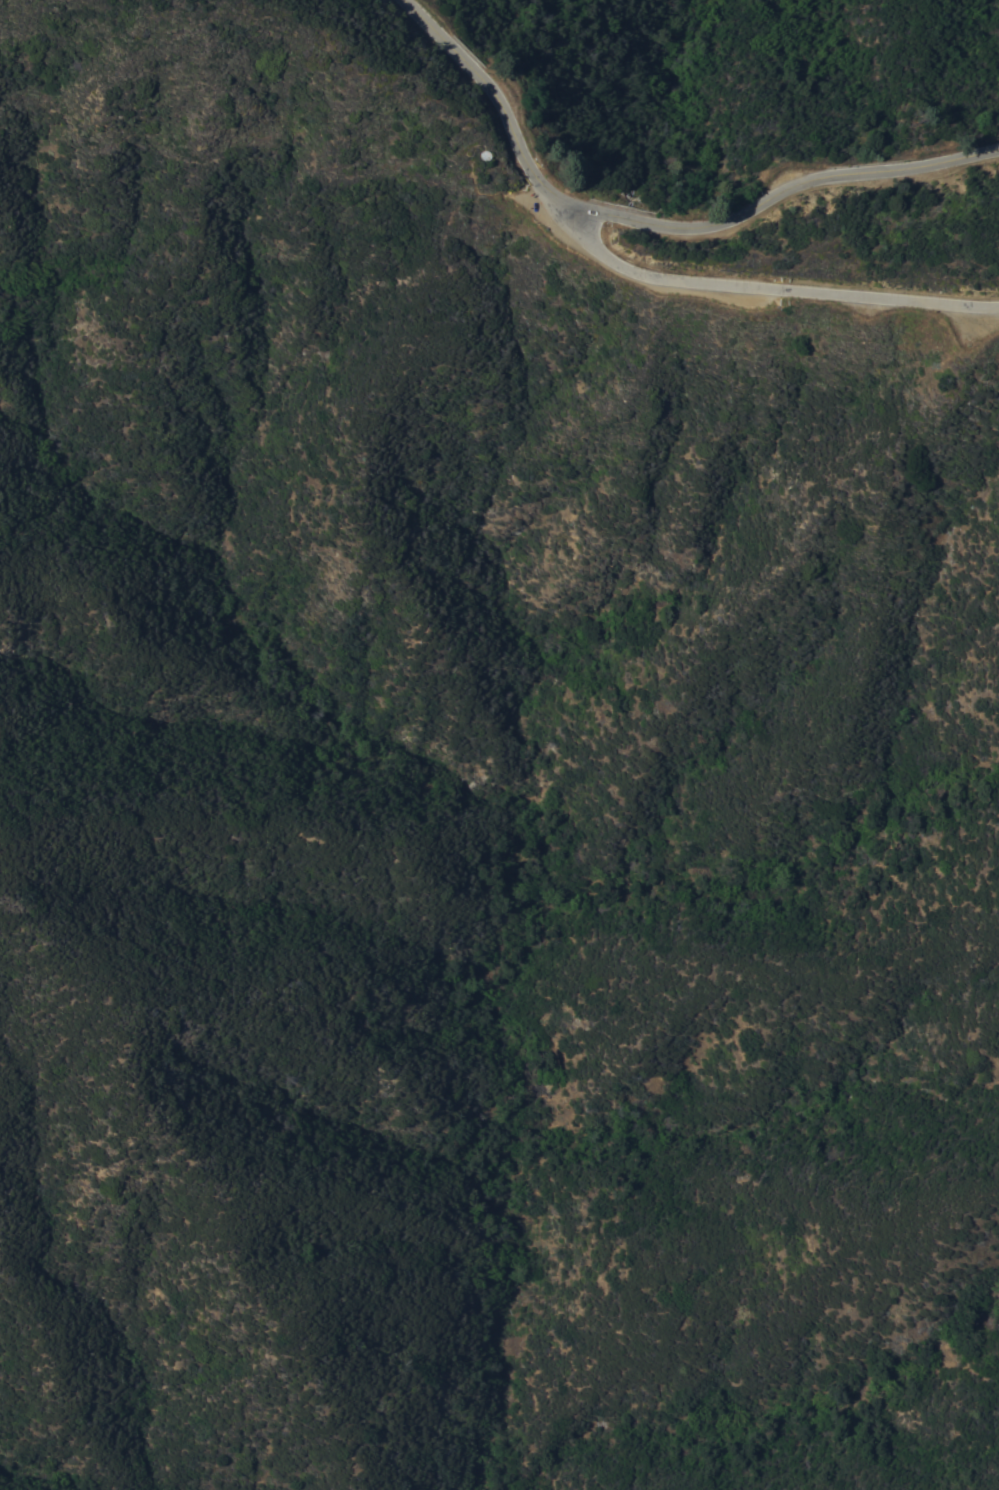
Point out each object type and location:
road: (657, 226)
road: (771, 289)

